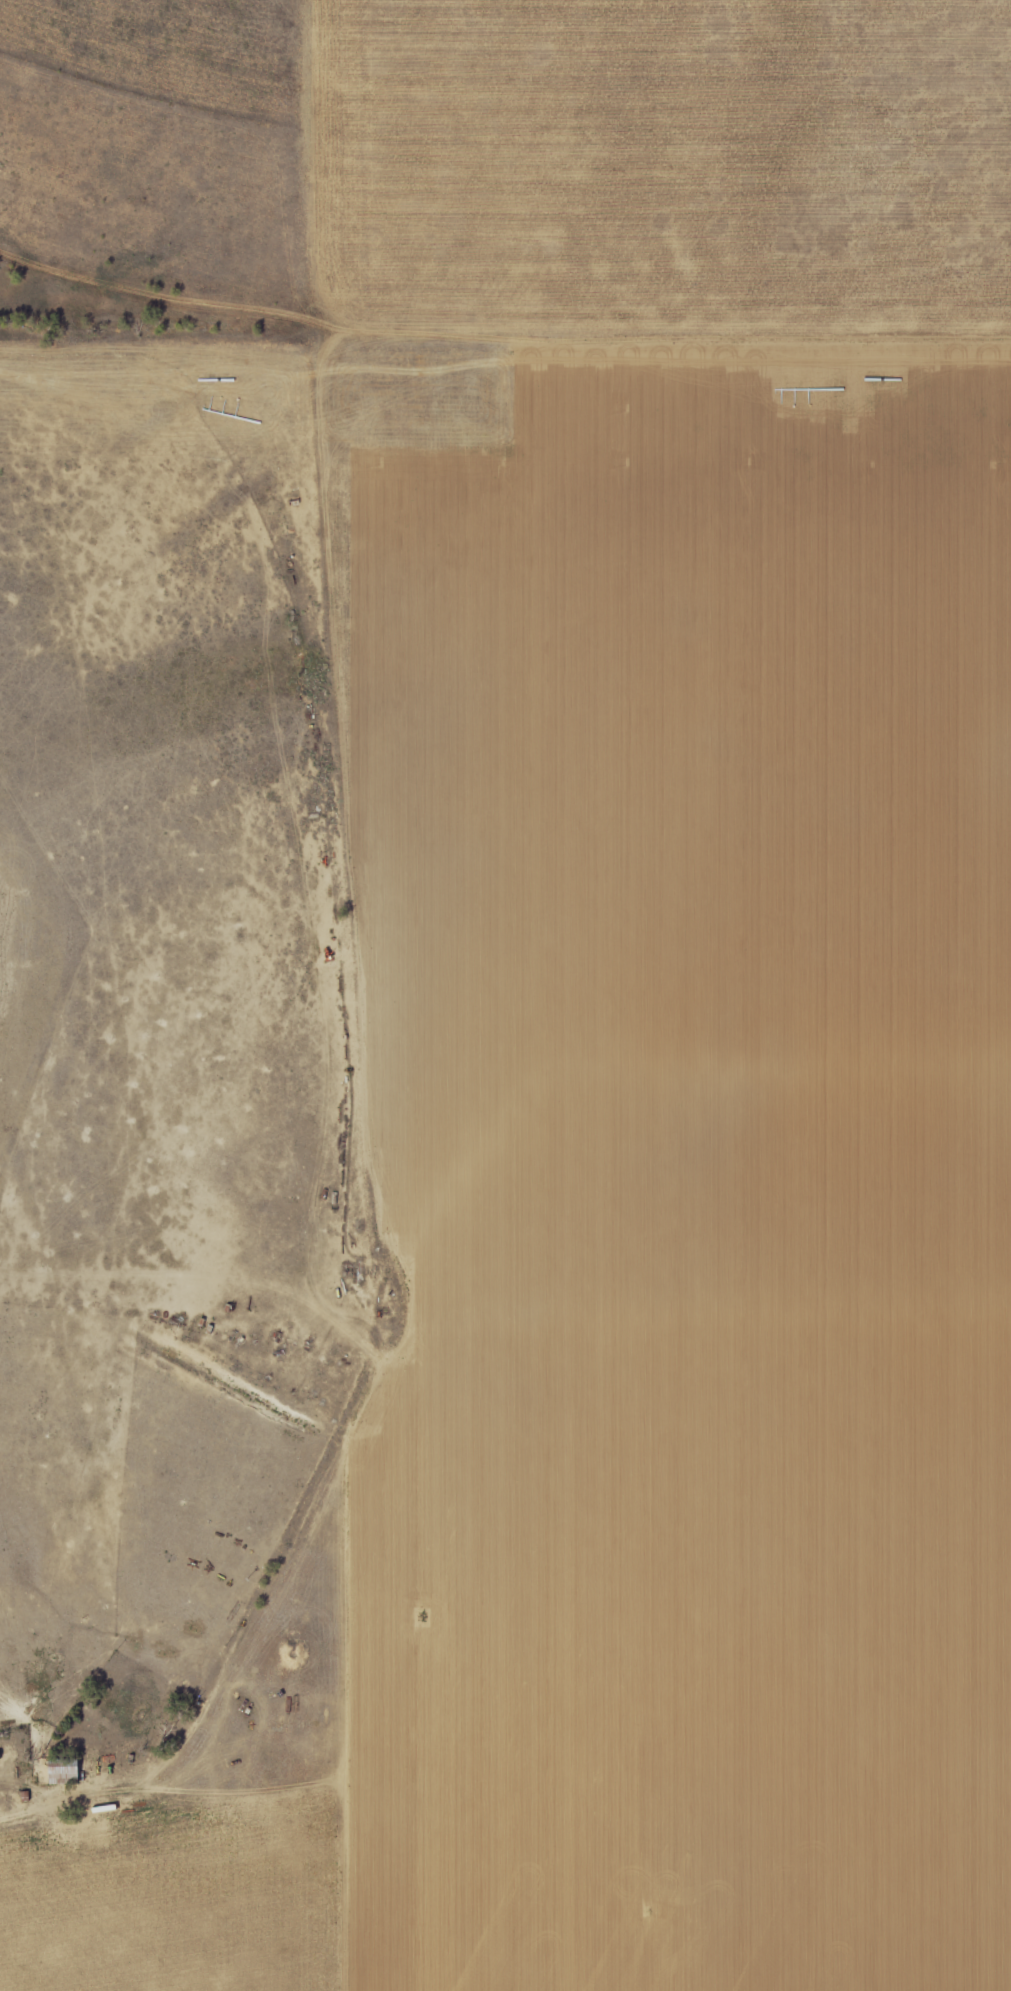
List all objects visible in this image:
road: (638, 341)
road: (10, 1834)

